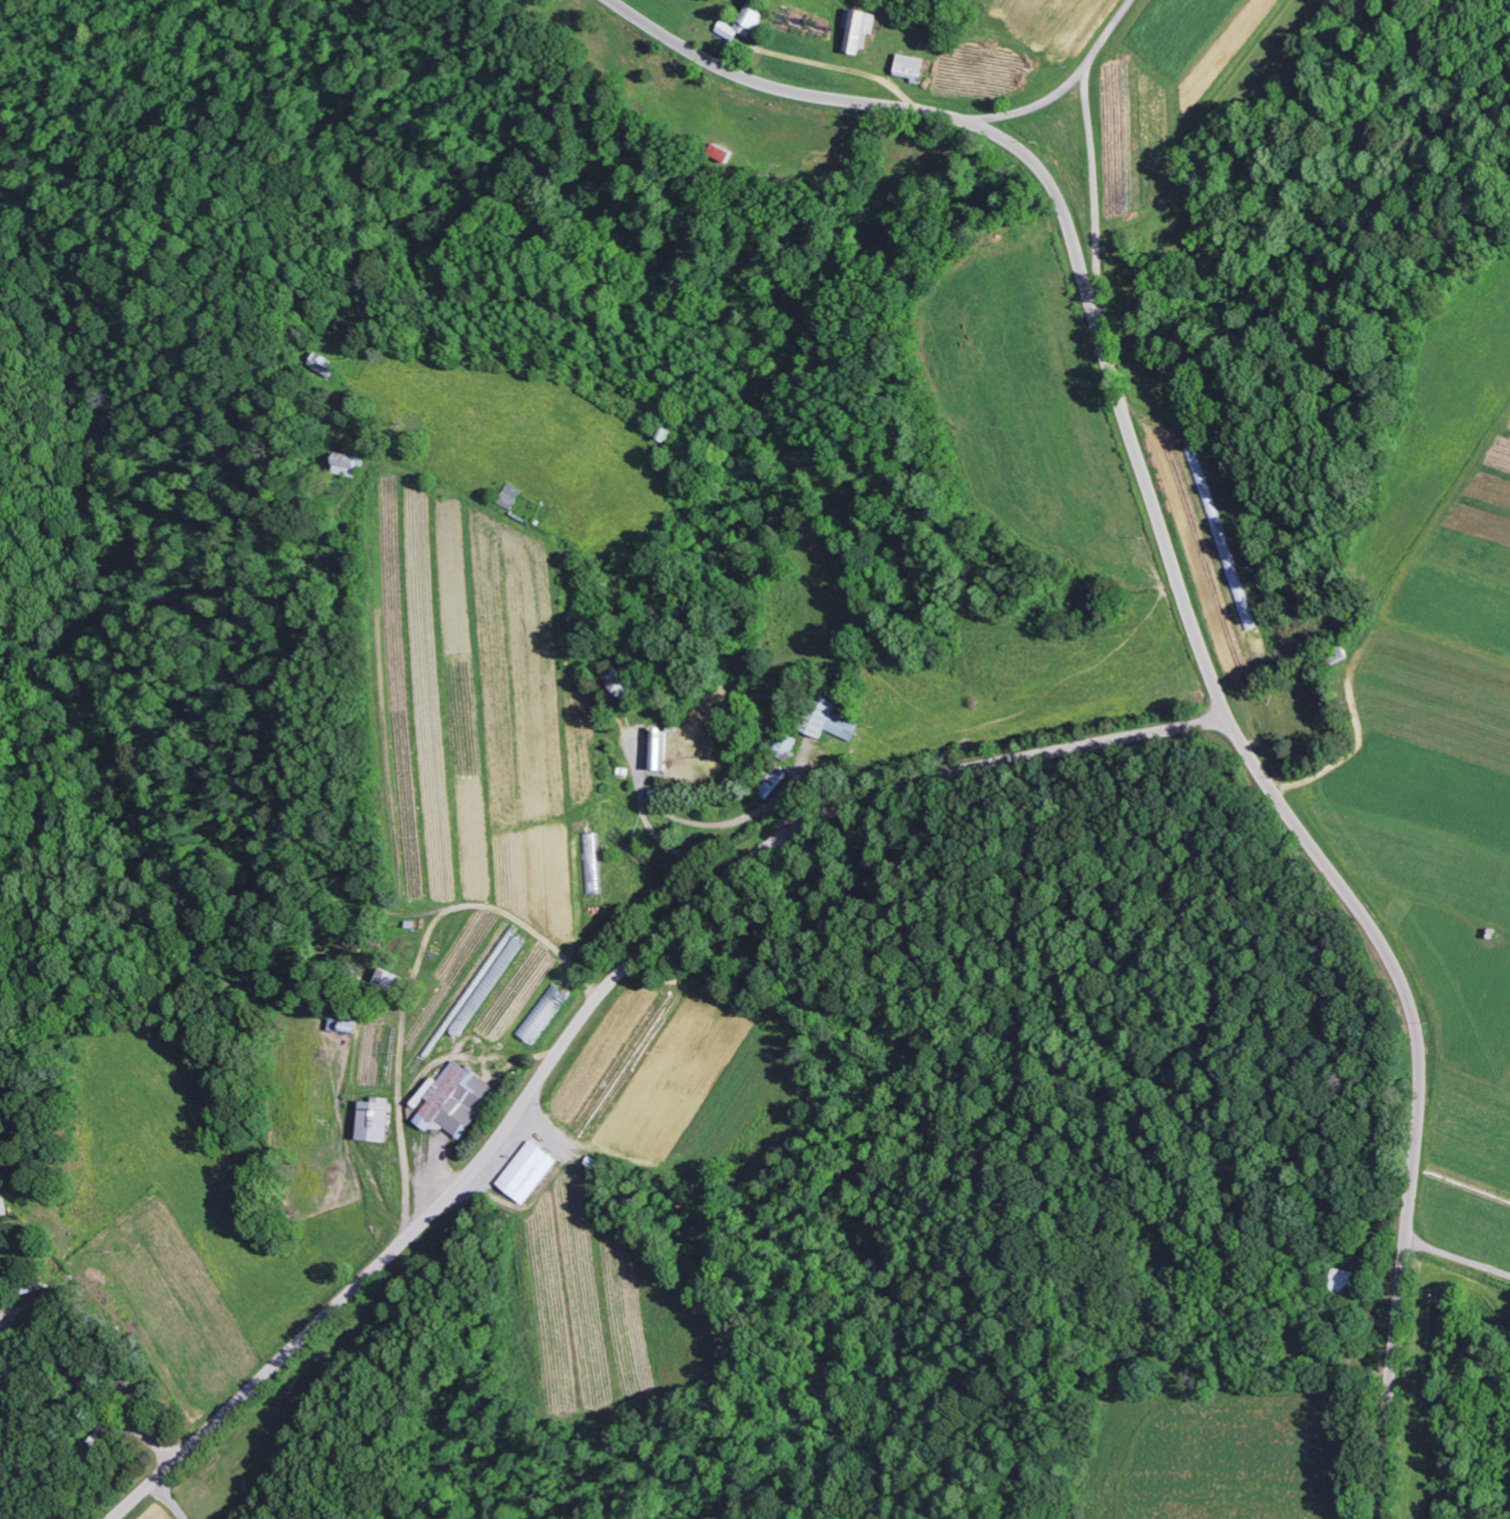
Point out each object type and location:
building: (745, 22)
building: (860, 27)
building: (914, 67)
road: (1038, 107)
road: (1088, 145)
building: (351, 463)
road: (1192, 628)
building: (831, 720)
park: (1293, 723)
building: (788, 744)
building: (663, 749)
road: (594, 999)
building: (454, 1102)
building: (375, 1120)
building: (527, 1172)
road: (254, 1218)
building: (1335, 1283)
road: (11, 1451)

